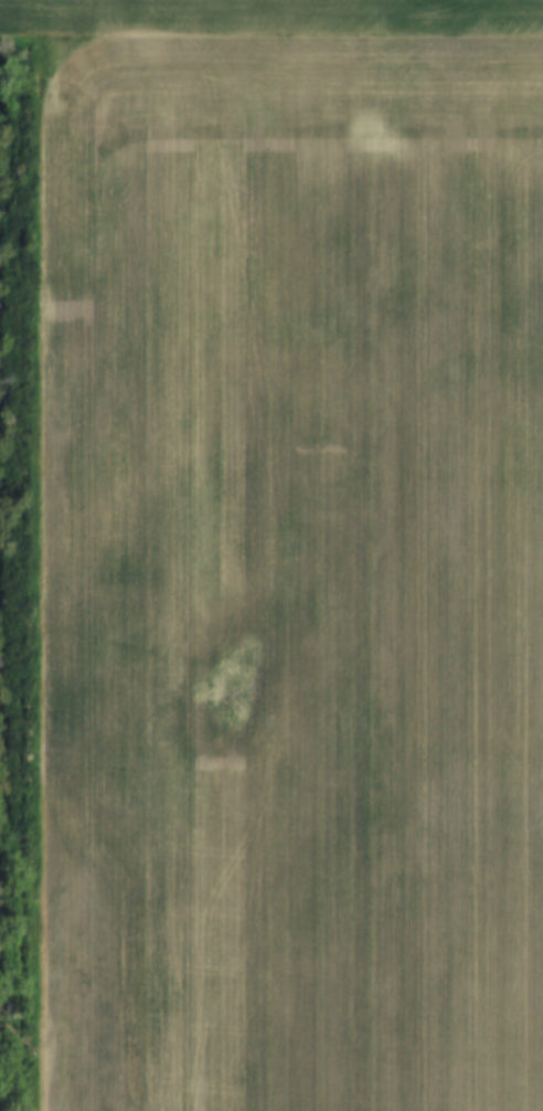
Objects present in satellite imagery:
road: (15, 31)

